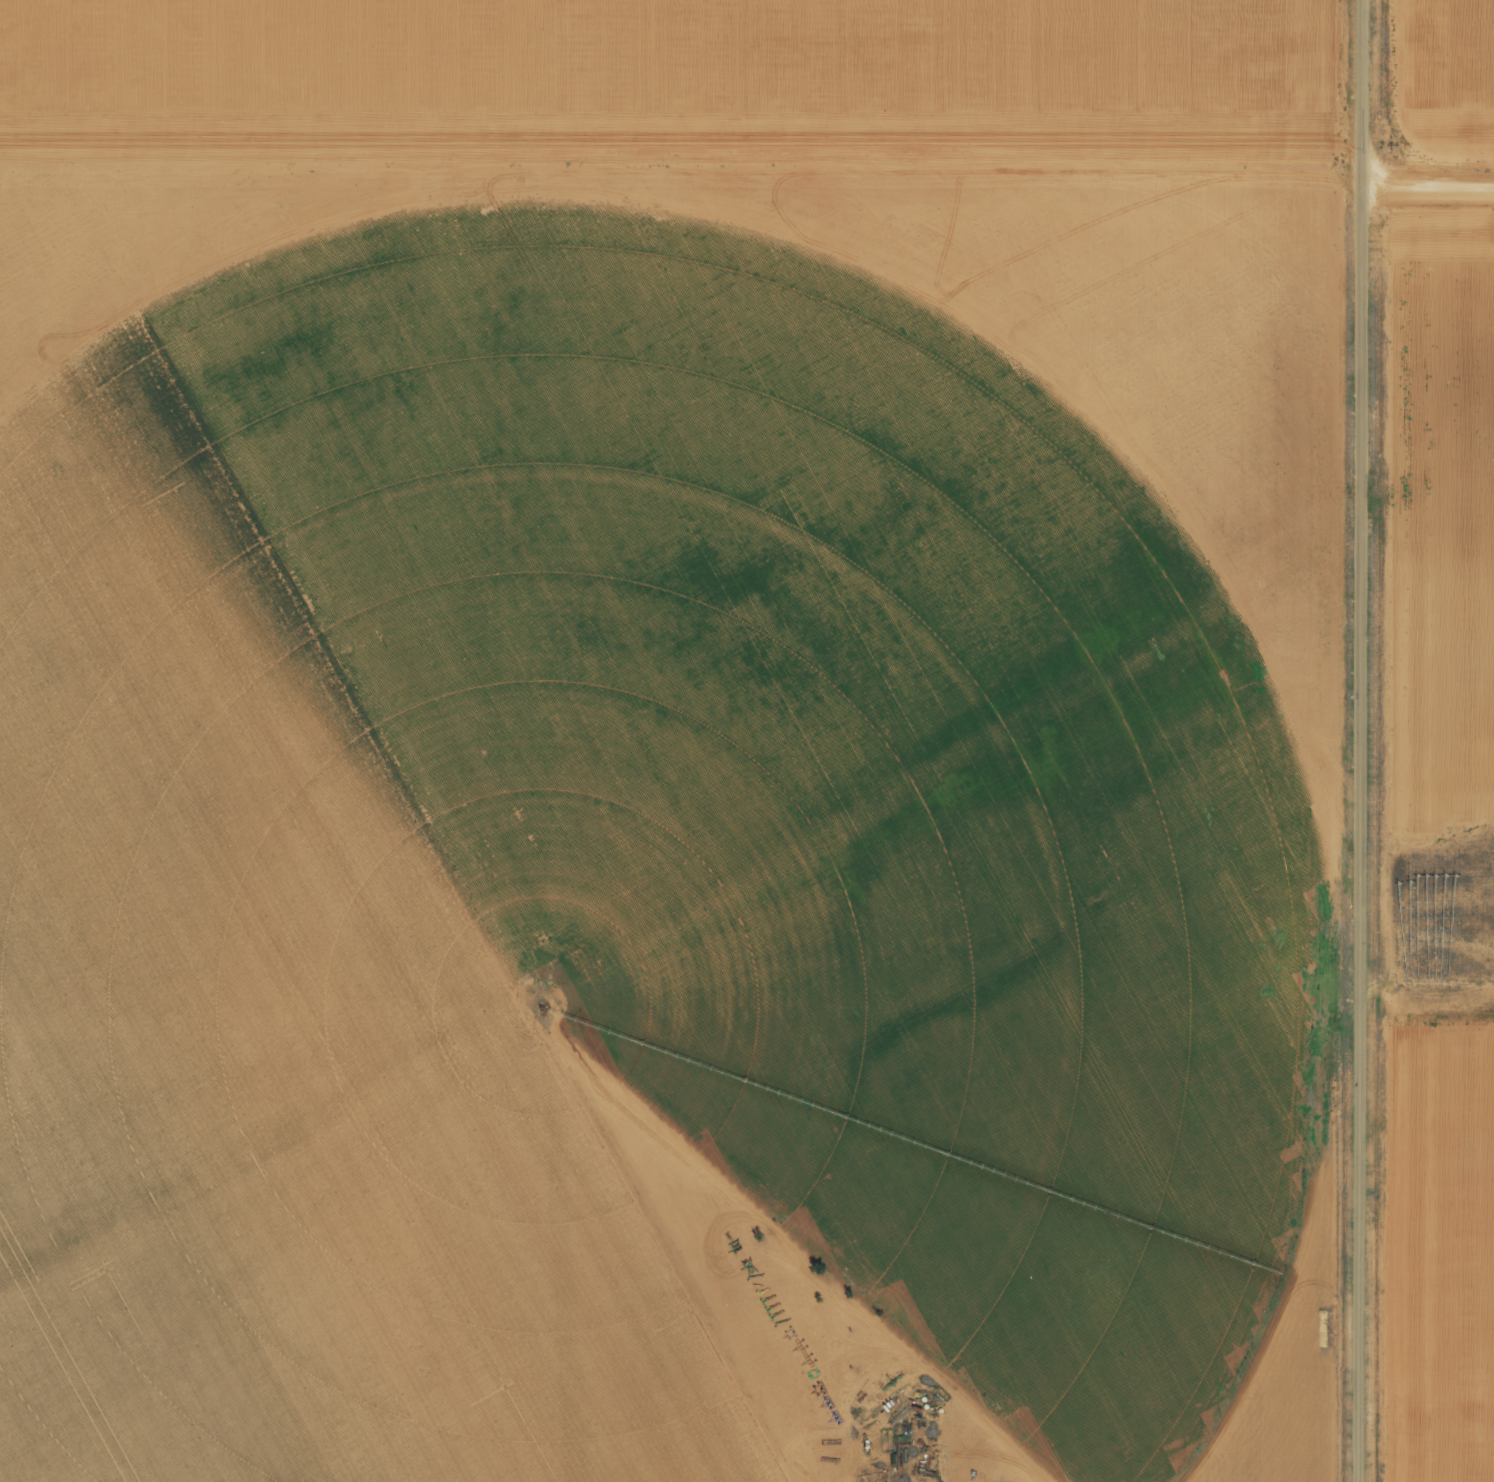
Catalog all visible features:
road: (1427, 173)
road: (1347, 740)

